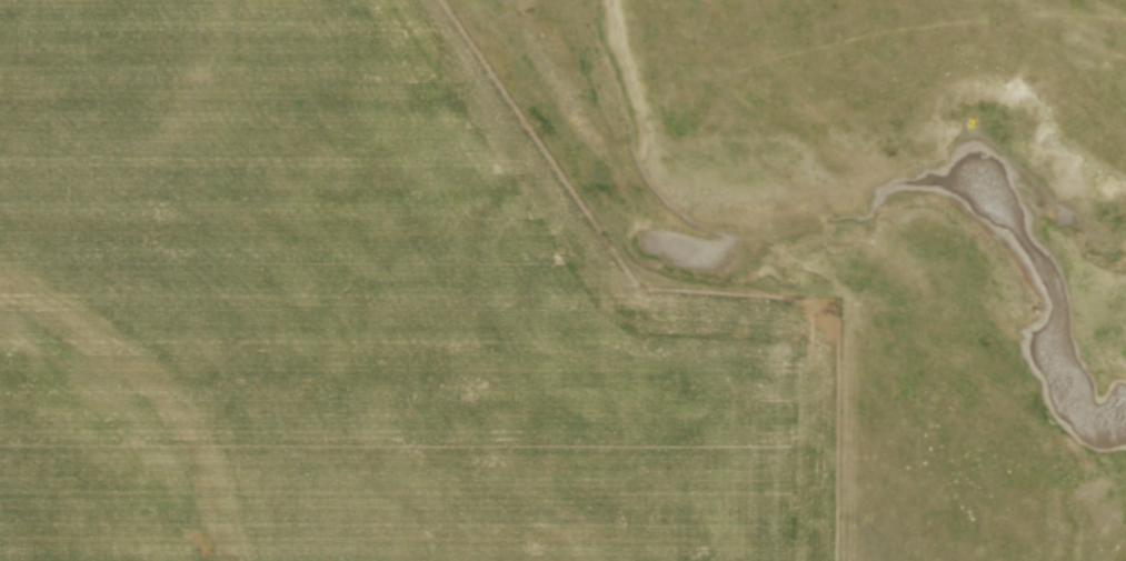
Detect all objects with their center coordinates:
crop: (359, 313)

